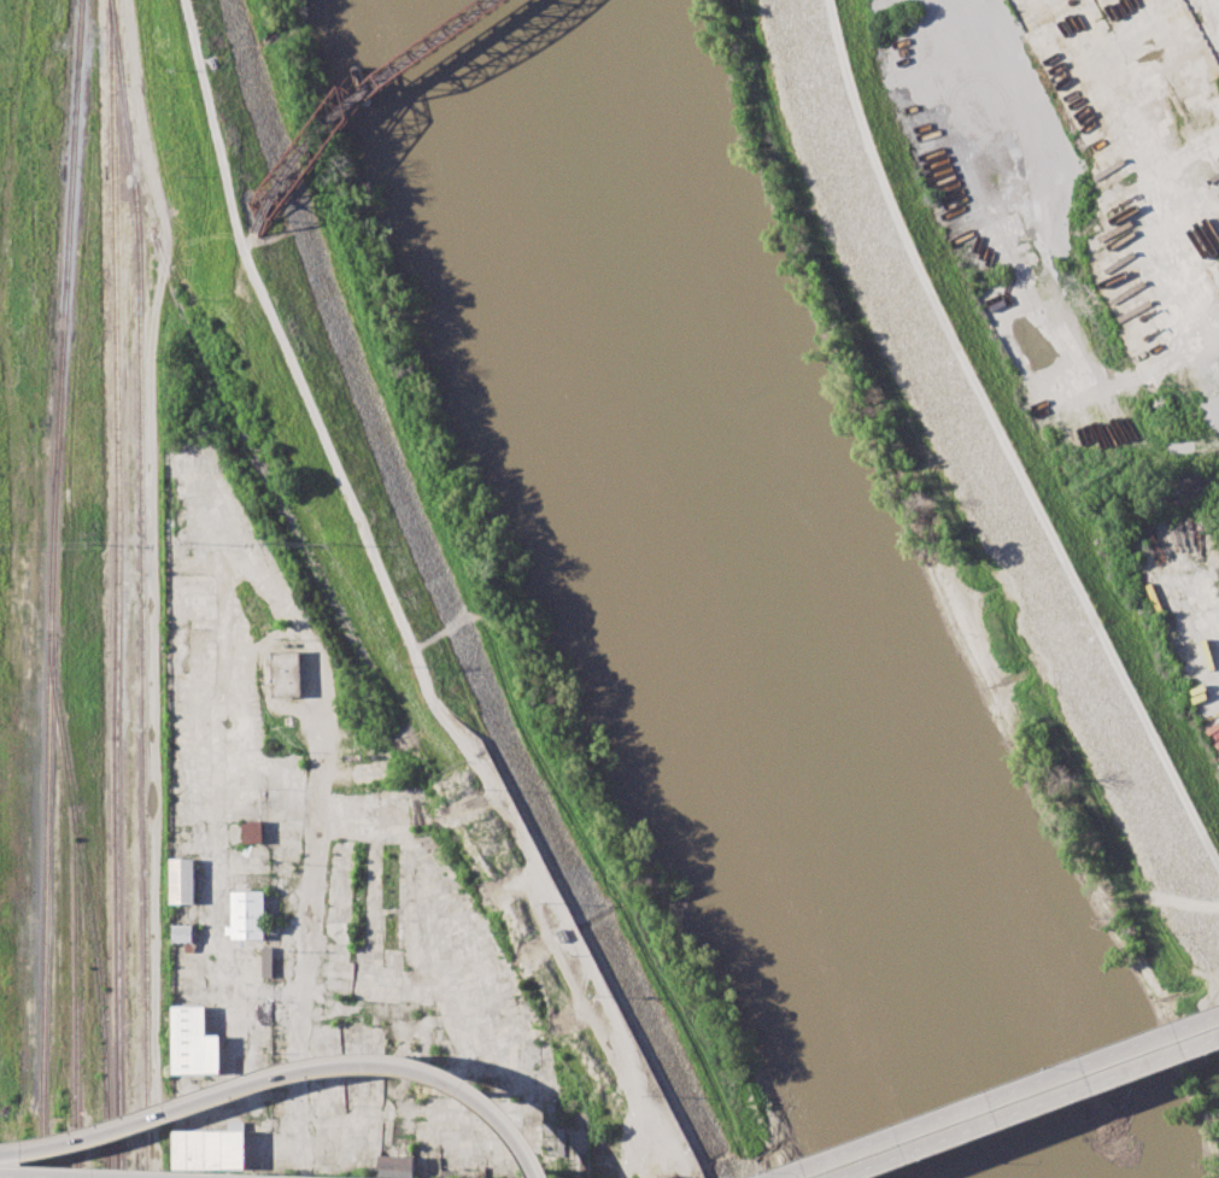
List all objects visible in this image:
railway: (359, 99)
railway: (12, 122)
road: (142, 123)
railway: (205, 362)
road: (1014, 433)
road: (385, 578)
railway: (142, 587)
railway: (51, 588)
railway: (117, 588)
river: (729, 606)
railway: (370, 667)
building: (287, 673)
building: (253, 831)
building: (182, 880)
railway: (88, 906)
building: (247, 915)
building: (272, 927)
road: (309, 928)
building: (182, 932)
building: (266, 961)
railway: (76, 990)
building: (265, 1013)
road: (1215, 1032)
building: (194, 1042)
road: (430, 1076)
road: (1010, 1098)
road: (1016, 1106)
road: (1039, 1110)
road: (139, 1123)
building: (210, 1149)
road: (640, 1154)
building: (395, 1161)
road: (10, 1177)
road: (317, 1177)

